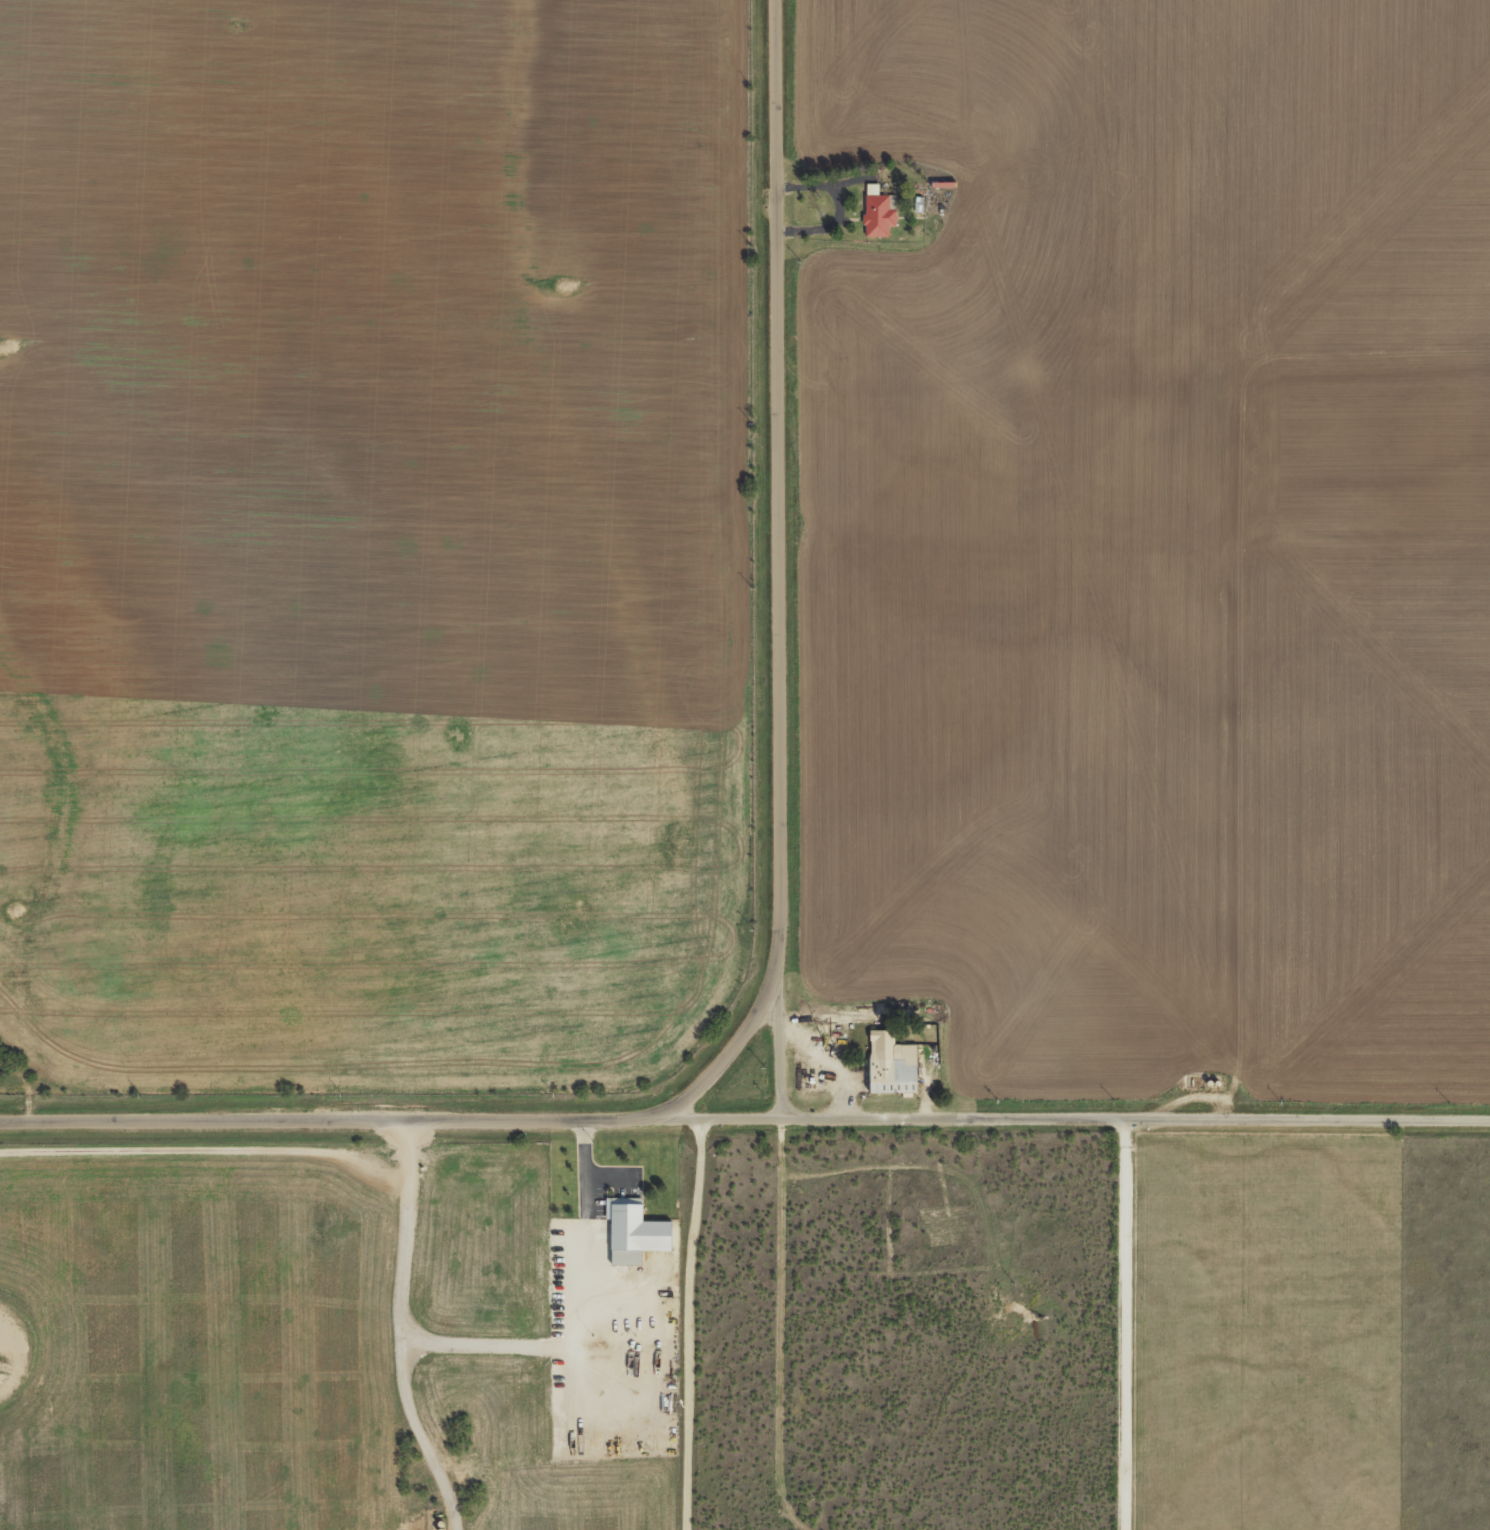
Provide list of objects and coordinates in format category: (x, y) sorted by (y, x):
building: (879, 211)
road: (786, 917)
building: (892, 1064)
road: (1225, 1123)
road: (818, 1126)
building: (636, 1235)
road: (690, 1326)
road: (1126, 1326)

